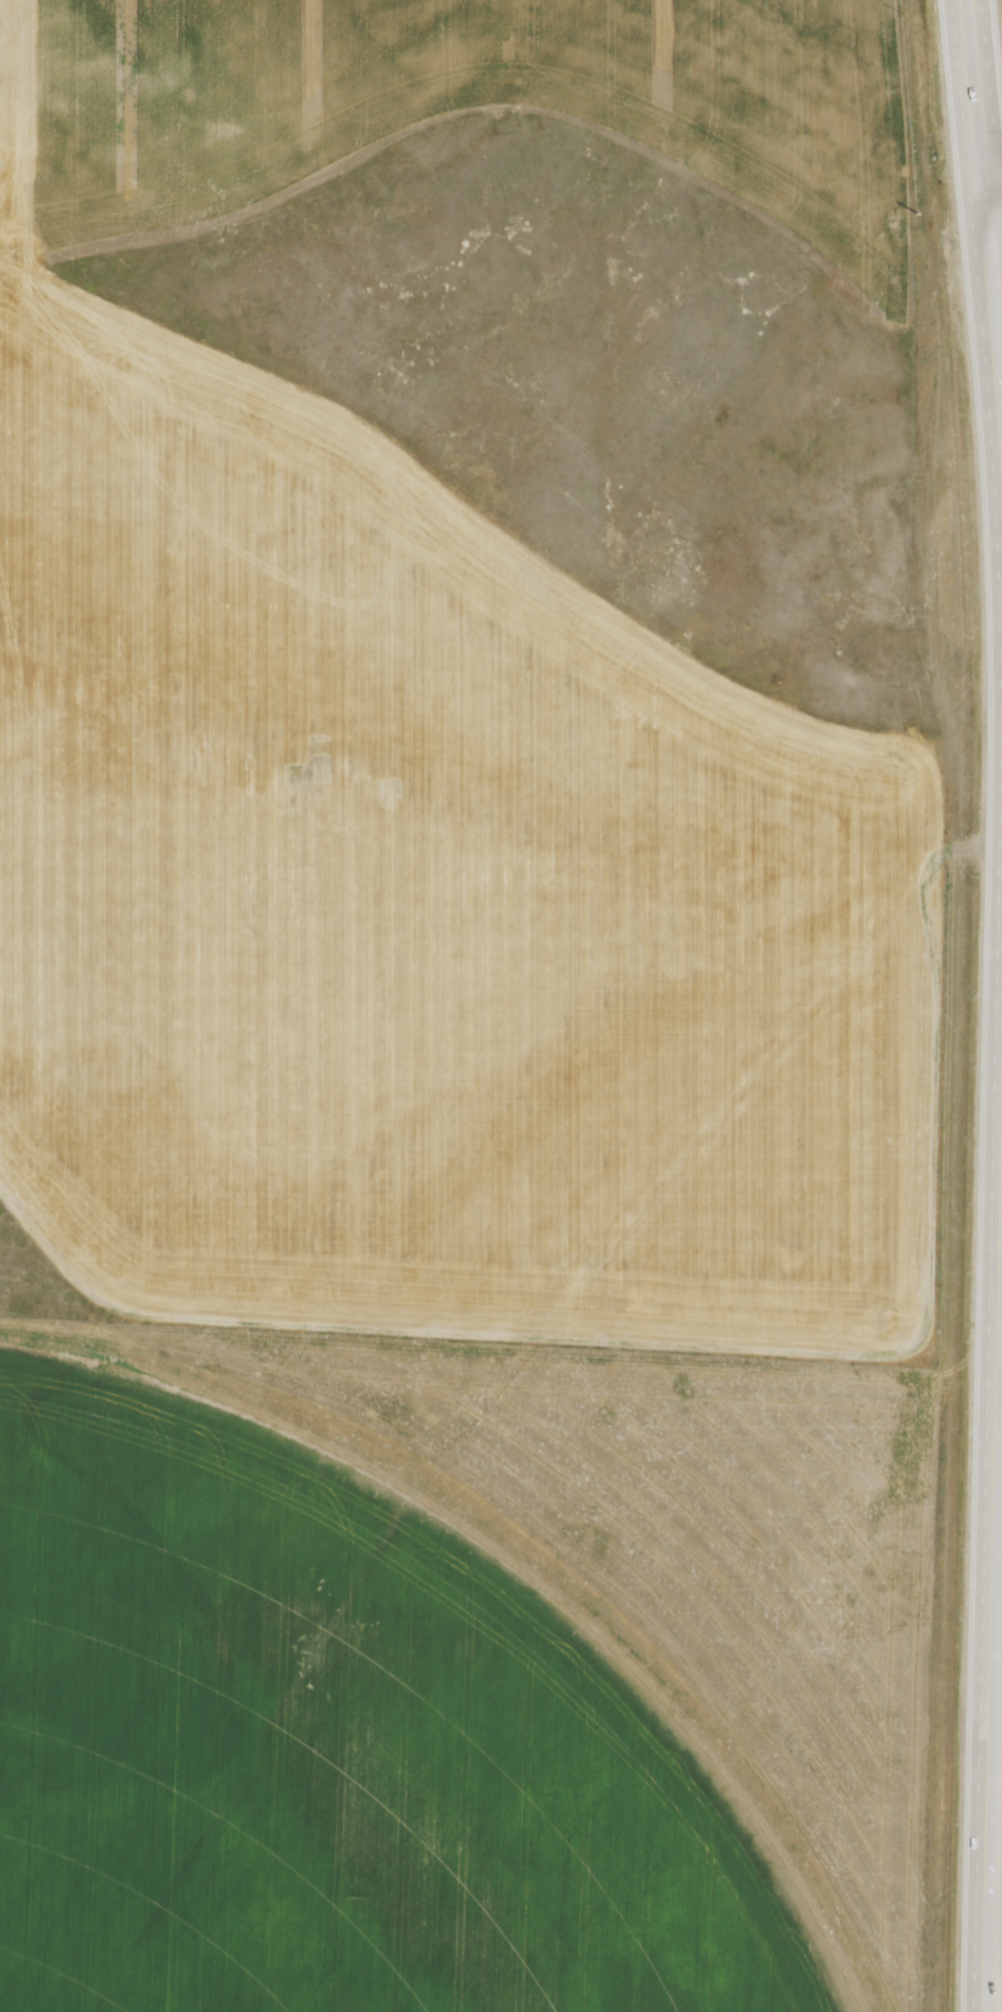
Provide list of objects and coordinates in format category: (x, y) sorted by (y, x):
road: (971, 91)
road: (990, 162)
road: (991, 182)
road: (990, 316)
road: (994, 1674)

